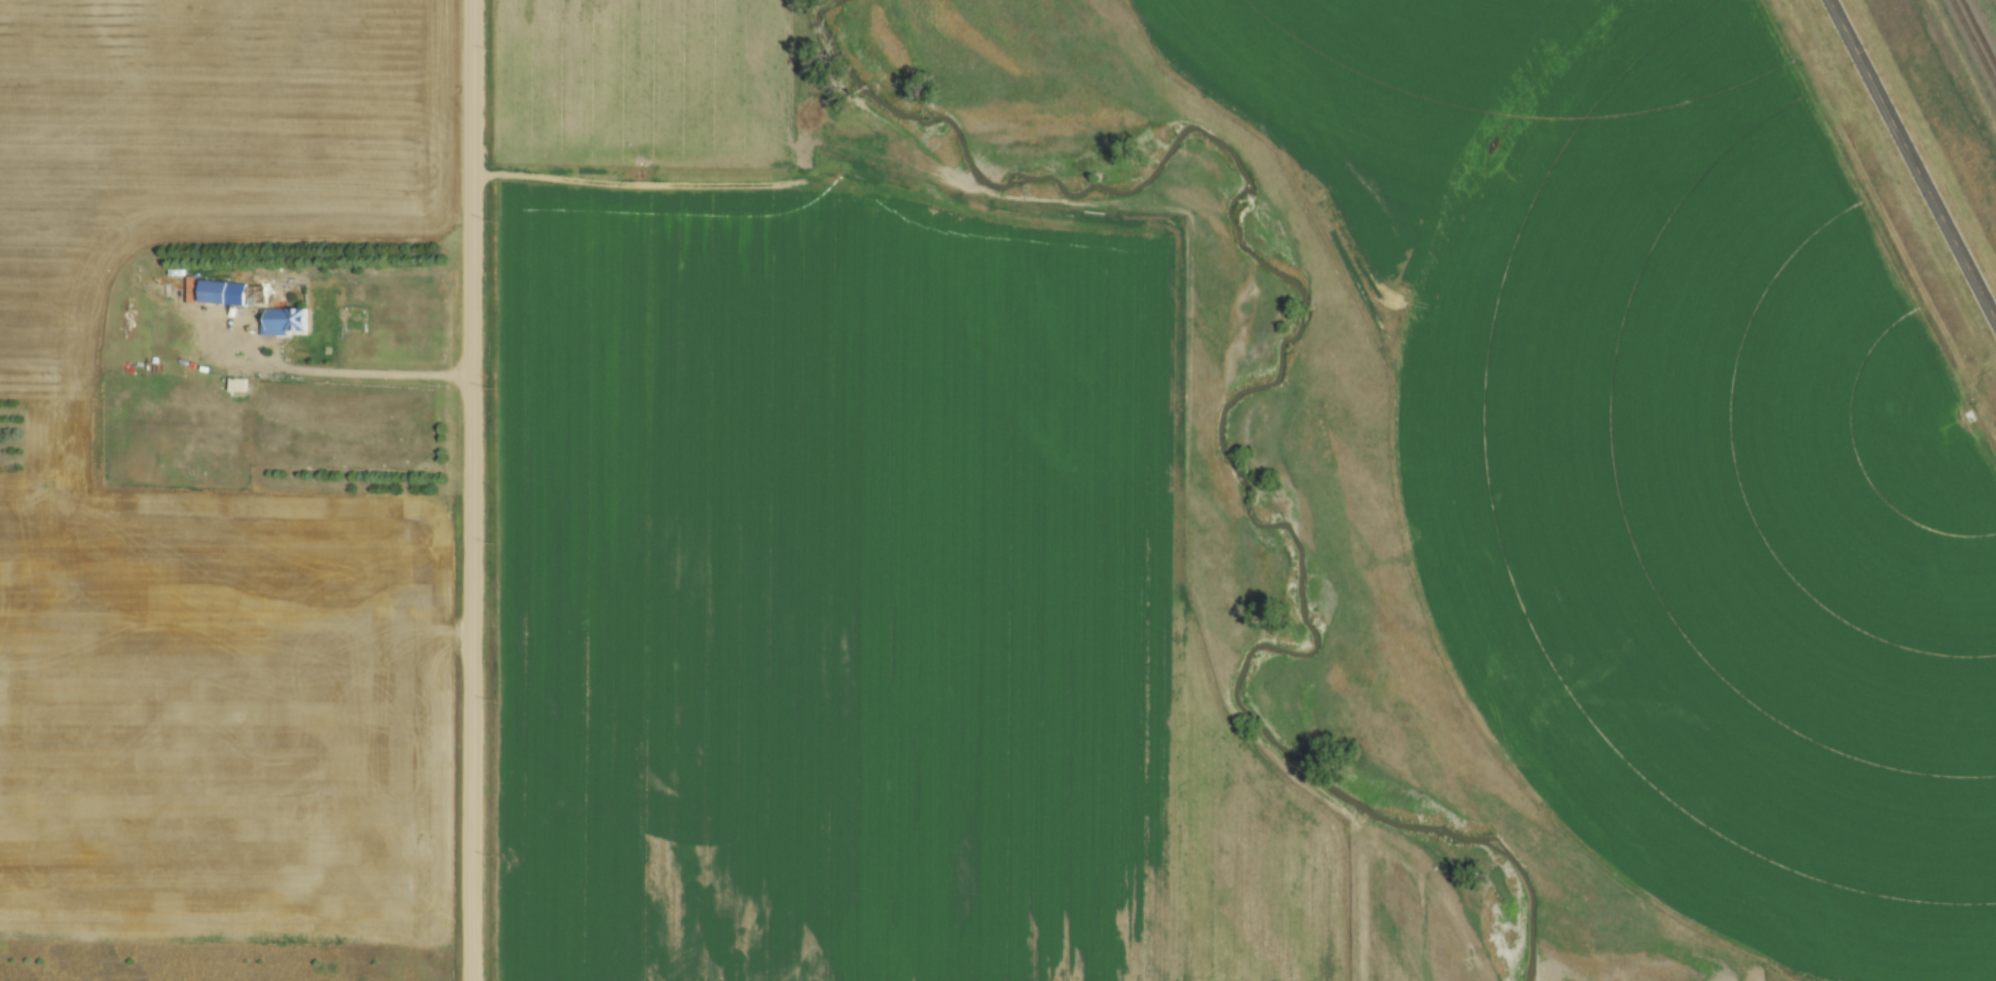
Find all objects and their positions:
railway: (1980, 29)
railway: (1974, 40)
crop: (643, 75)
crop: (209, 136)
road: (1913, 159)
building: (214, 291)
building: (257, 292)
building: (284, 319)
road: (354, 372)
building: (240, 383)
crop: (1680, 424)
road: (475, 490)
crop: (877, 612)
crop: (226, 713)

